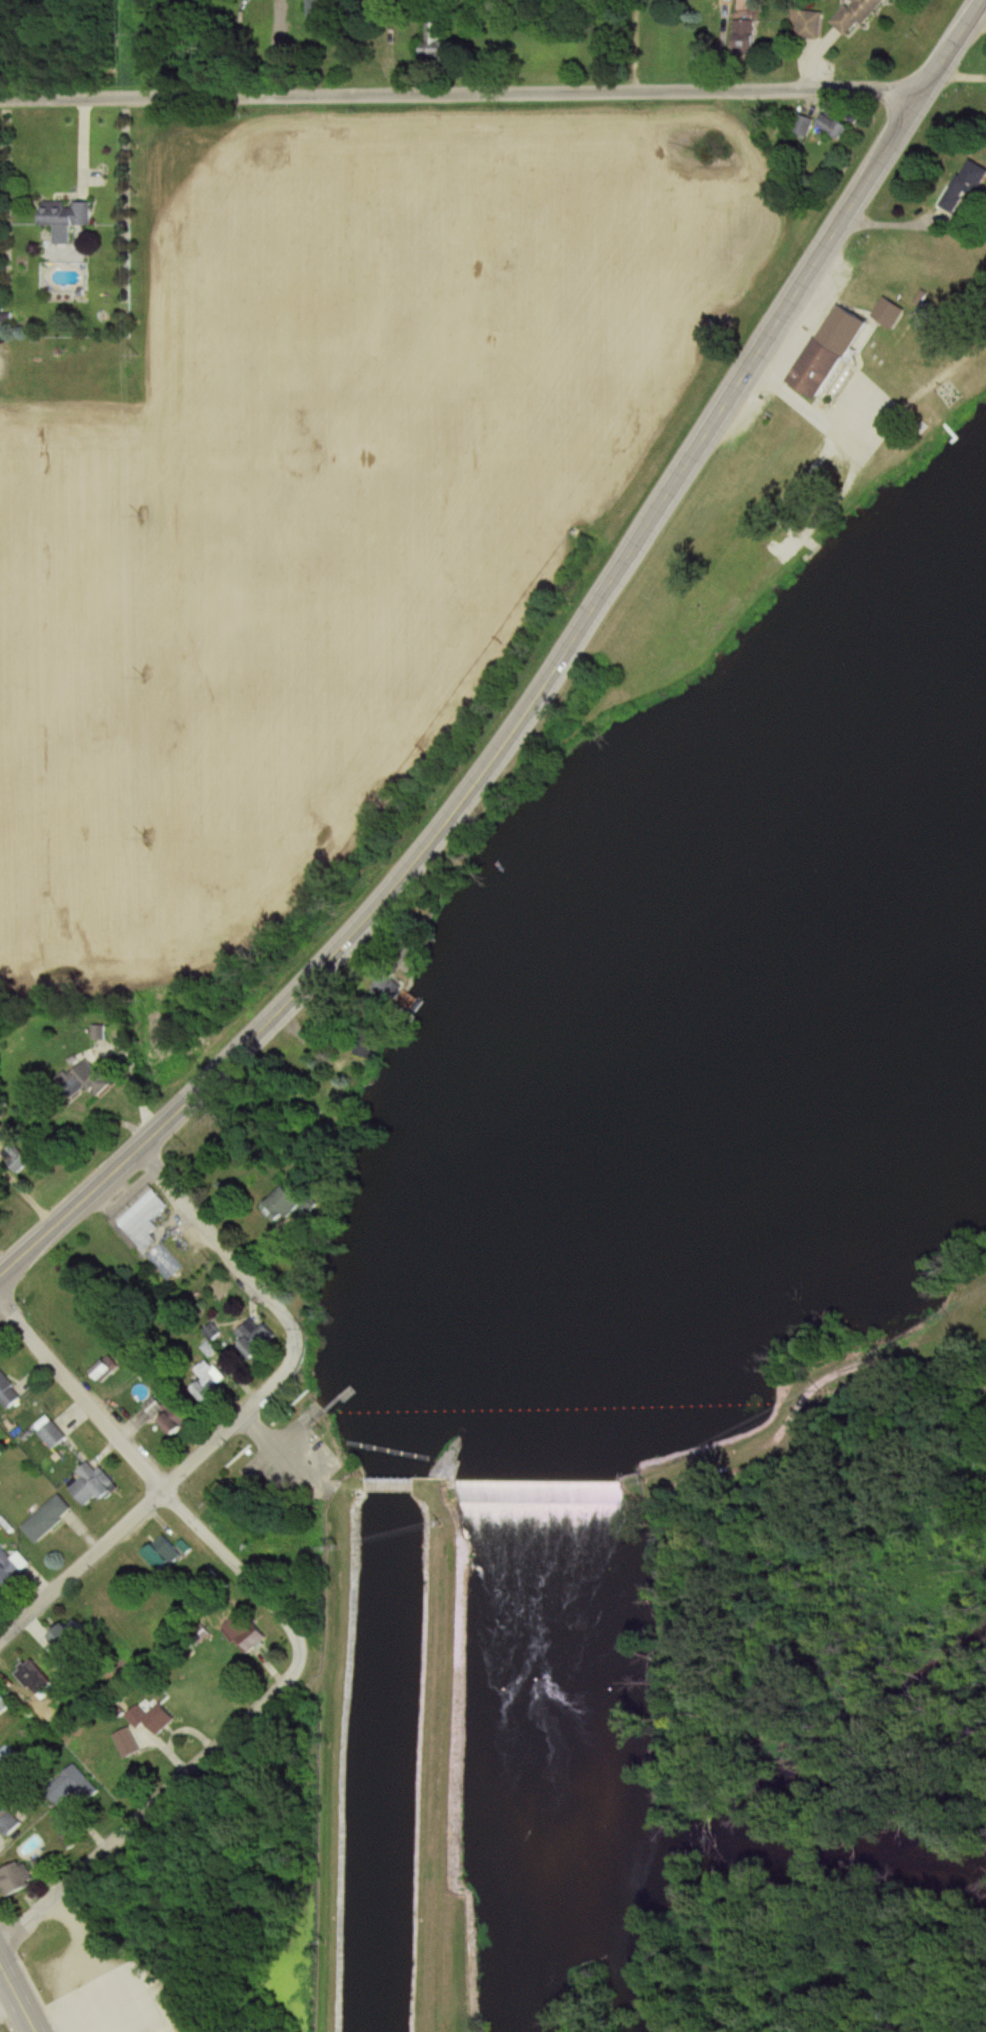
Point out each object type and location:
building: (323, 8)
building: (857, 15)
building: (812, 25)
building: (747, 35)
building: (443, 44)
road: (461, 95)
building: (803, 125)
building: (837, 125)
building: (966, 185)
building: (65, 218)
building: (885, 312)
building: (830, 351)
road: (668, 488)
building: (85, 1080)
road: (167, 1124)
building: (17, 1158)
building: (293, 1207)
building: (141, 1220)
road: (231, 1258)
building: (168, 1264)
building: (270, 1337)
building: (217, 1365)
building: (105, 1371)
road: (965, 1377)
river: (584, 1389)
building: (8, 1393)
building: (177, 1413)
building: (53, 1436)
road: (160, 1476)
building: (95, 1484)
dam: (508, 1490)
road: (152, 1511)
building: (49, 1518)
building: (164, 1553)
building: (12, 1563)
building: (243, 1632)
building: (73, 1639)
building: (38, 1677)
building: (6, 1703)
building: (151, 1718)
building: (124, 1743)
building: (7, 1757)
building: (79, 1785)
road: (144, 1809)
building: (7, 1821)
building: (15, 1880)
park: (719, 1984)
road: (6, 1997)
road: (16, 2000)

